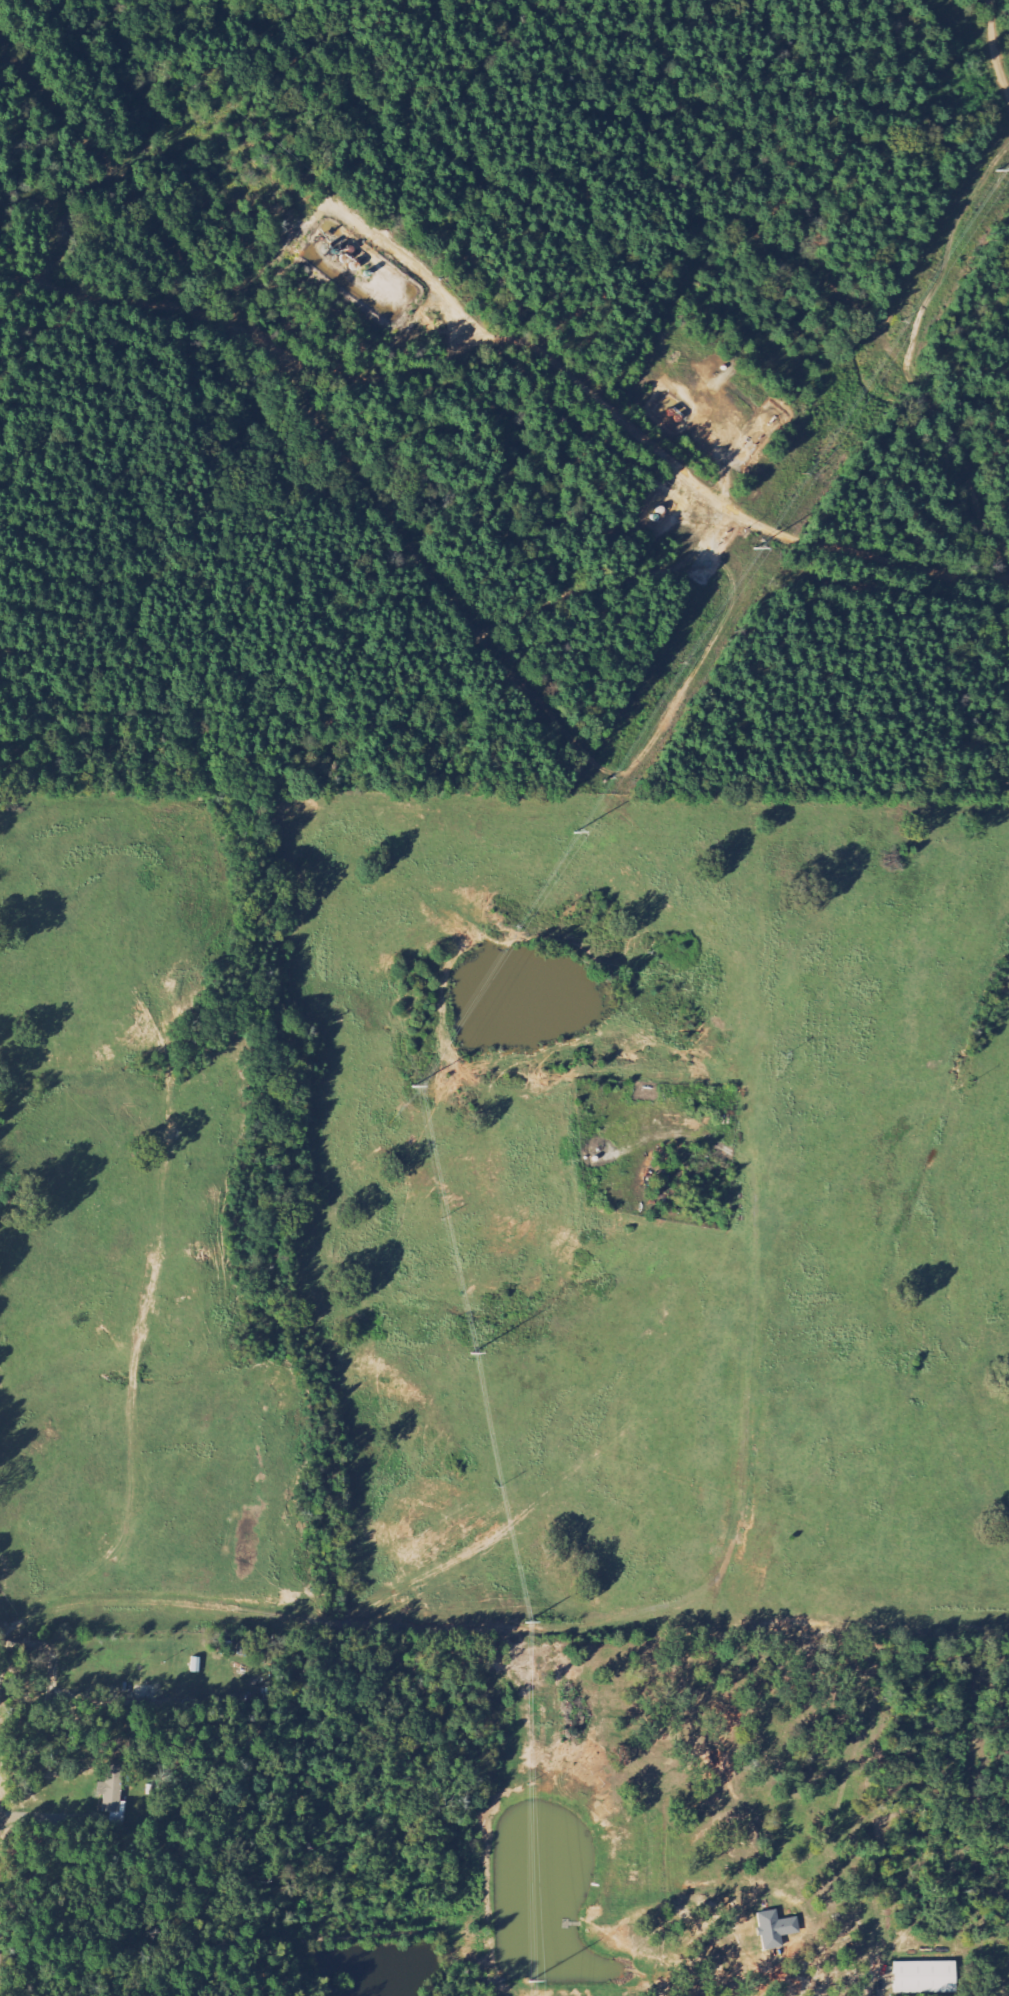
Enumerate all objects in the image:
road: (995, 45)
power tower: (1000, 170)
power tower: (900, 325)
road: (527, 343)
road: (952, 441)
power tower: (756, 548)
power tower: (573, 831)
power tower: (413, 1085)
power tower: (470, 1354)
road: (608, 1621)
power tower: (526, 1622)
power tower: (528, 1784)
building: (112, 1789)
building: (118, 1816)
building: (775, 1930)
building: (925, 1978)
power tower: (531, 1982)

